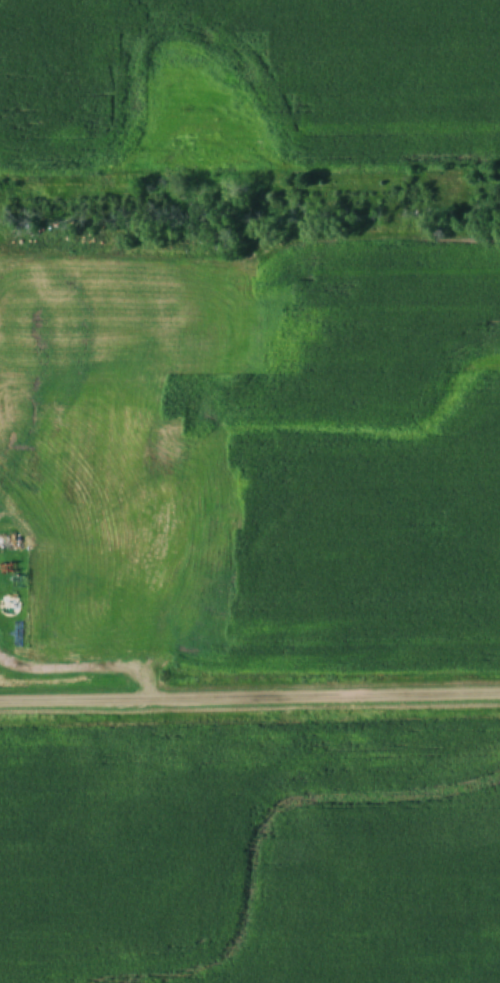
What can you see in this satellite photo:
building: (169, 288)
building: (8, 543)
building: (6, 605)
road: (86, 655)
road: (249, 683)

